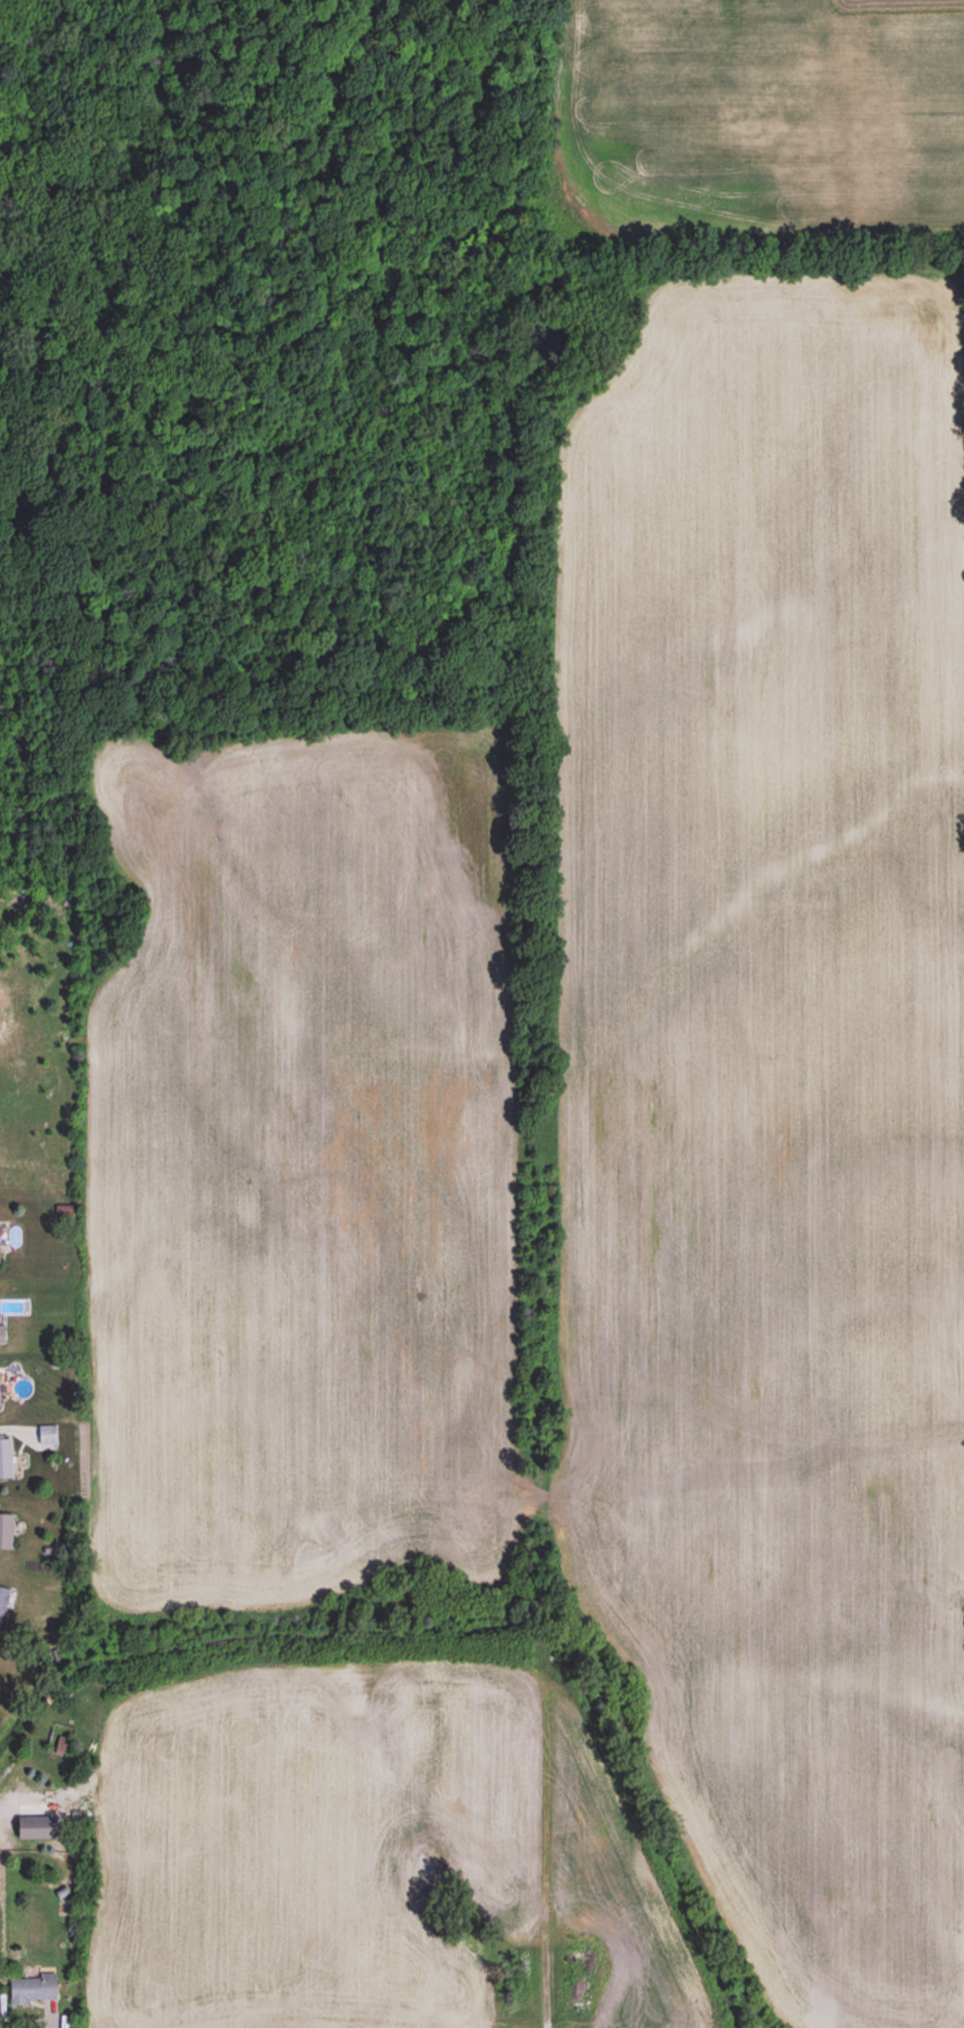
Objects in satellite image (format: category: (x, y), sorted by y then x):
building: (4, 1234)
building: (2, 1333)
building: (47, 1433)
building: (6, 1456)
building: (6, 1530)
building: (3, 1601)
building: (36, 1826)
building: (33, 1988)

